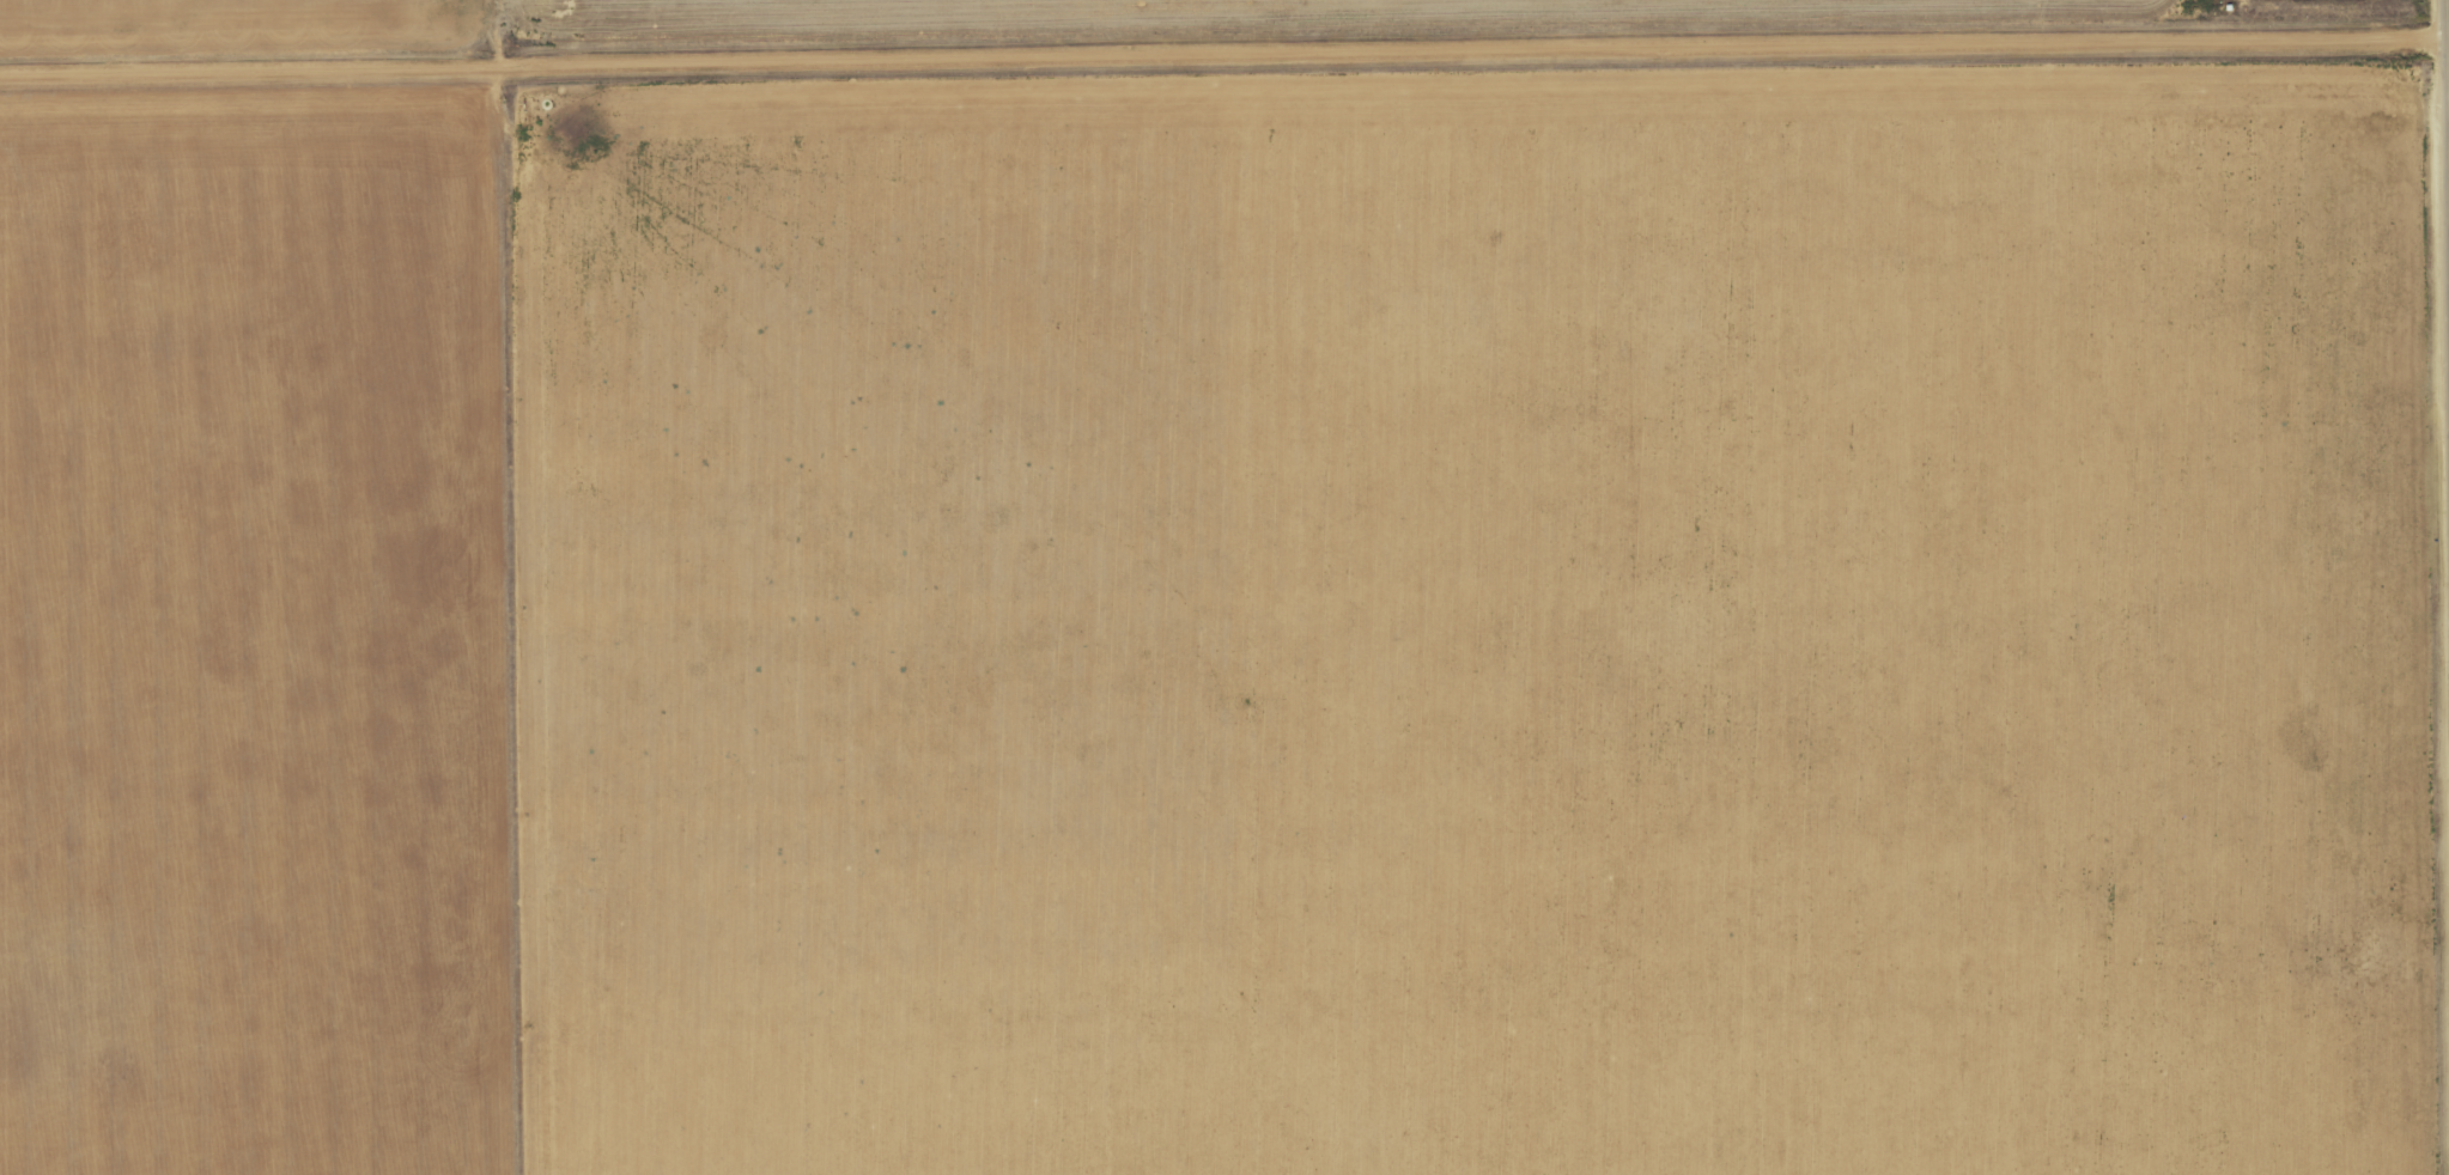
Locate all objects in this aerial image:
road: (1222, 51)
road: (2447, 146)
road: (533, 620)

